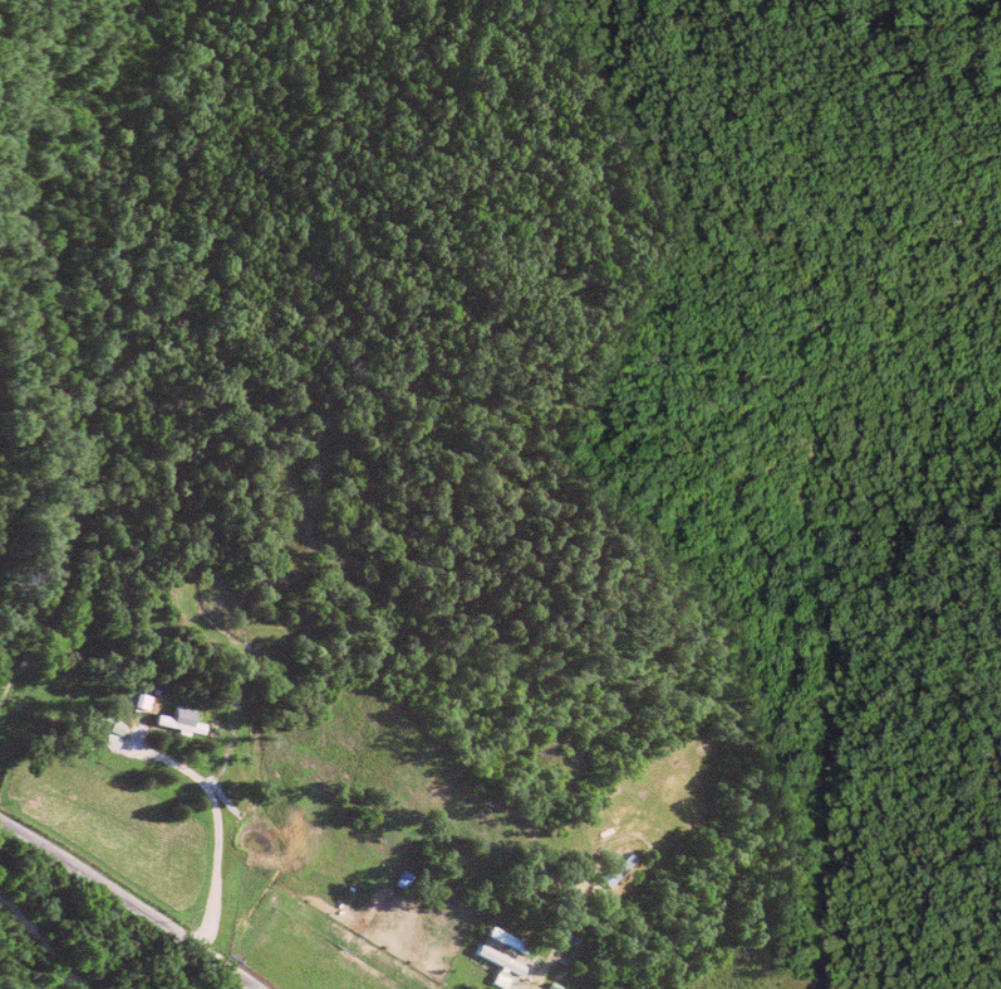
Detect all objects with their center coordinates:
building: (186, 720)
building: (116, 727)
building: (110, 740)
road: (222, 838)
road: (132, 901)

